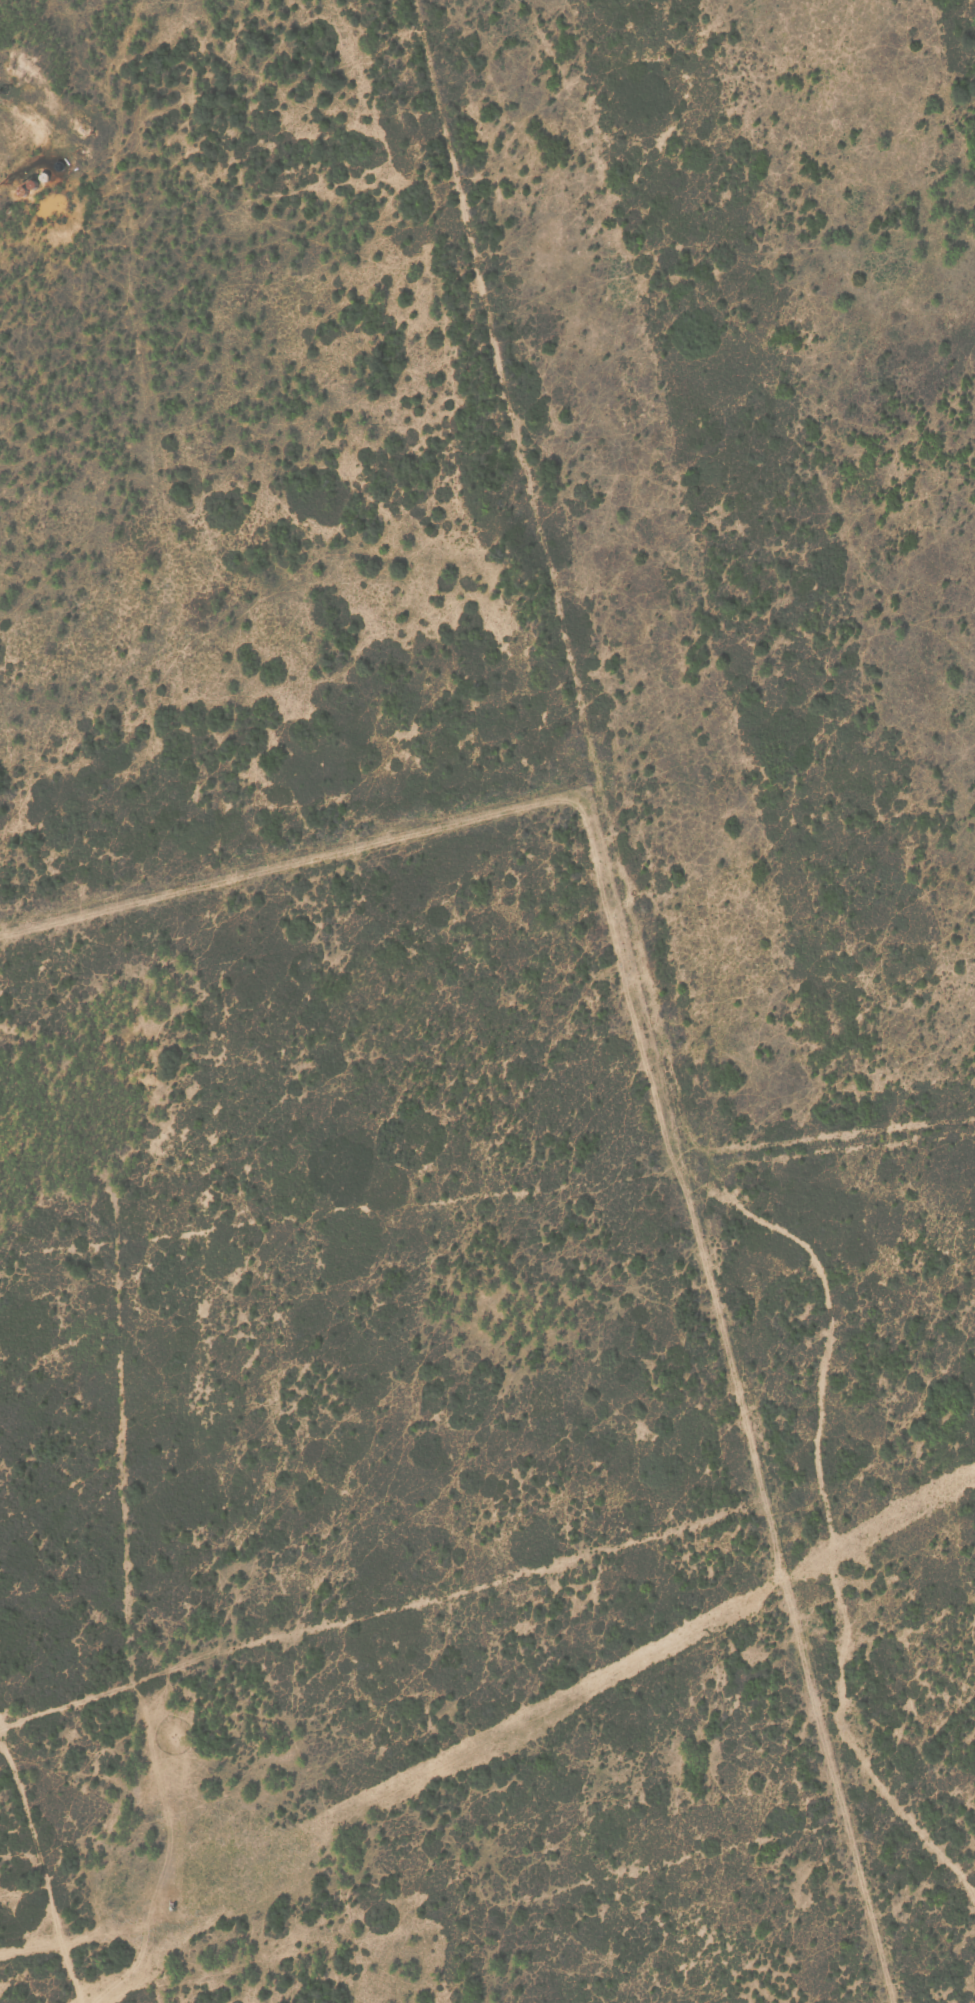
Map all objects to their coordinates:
road: (734, 343)
road: (78, 1434)

